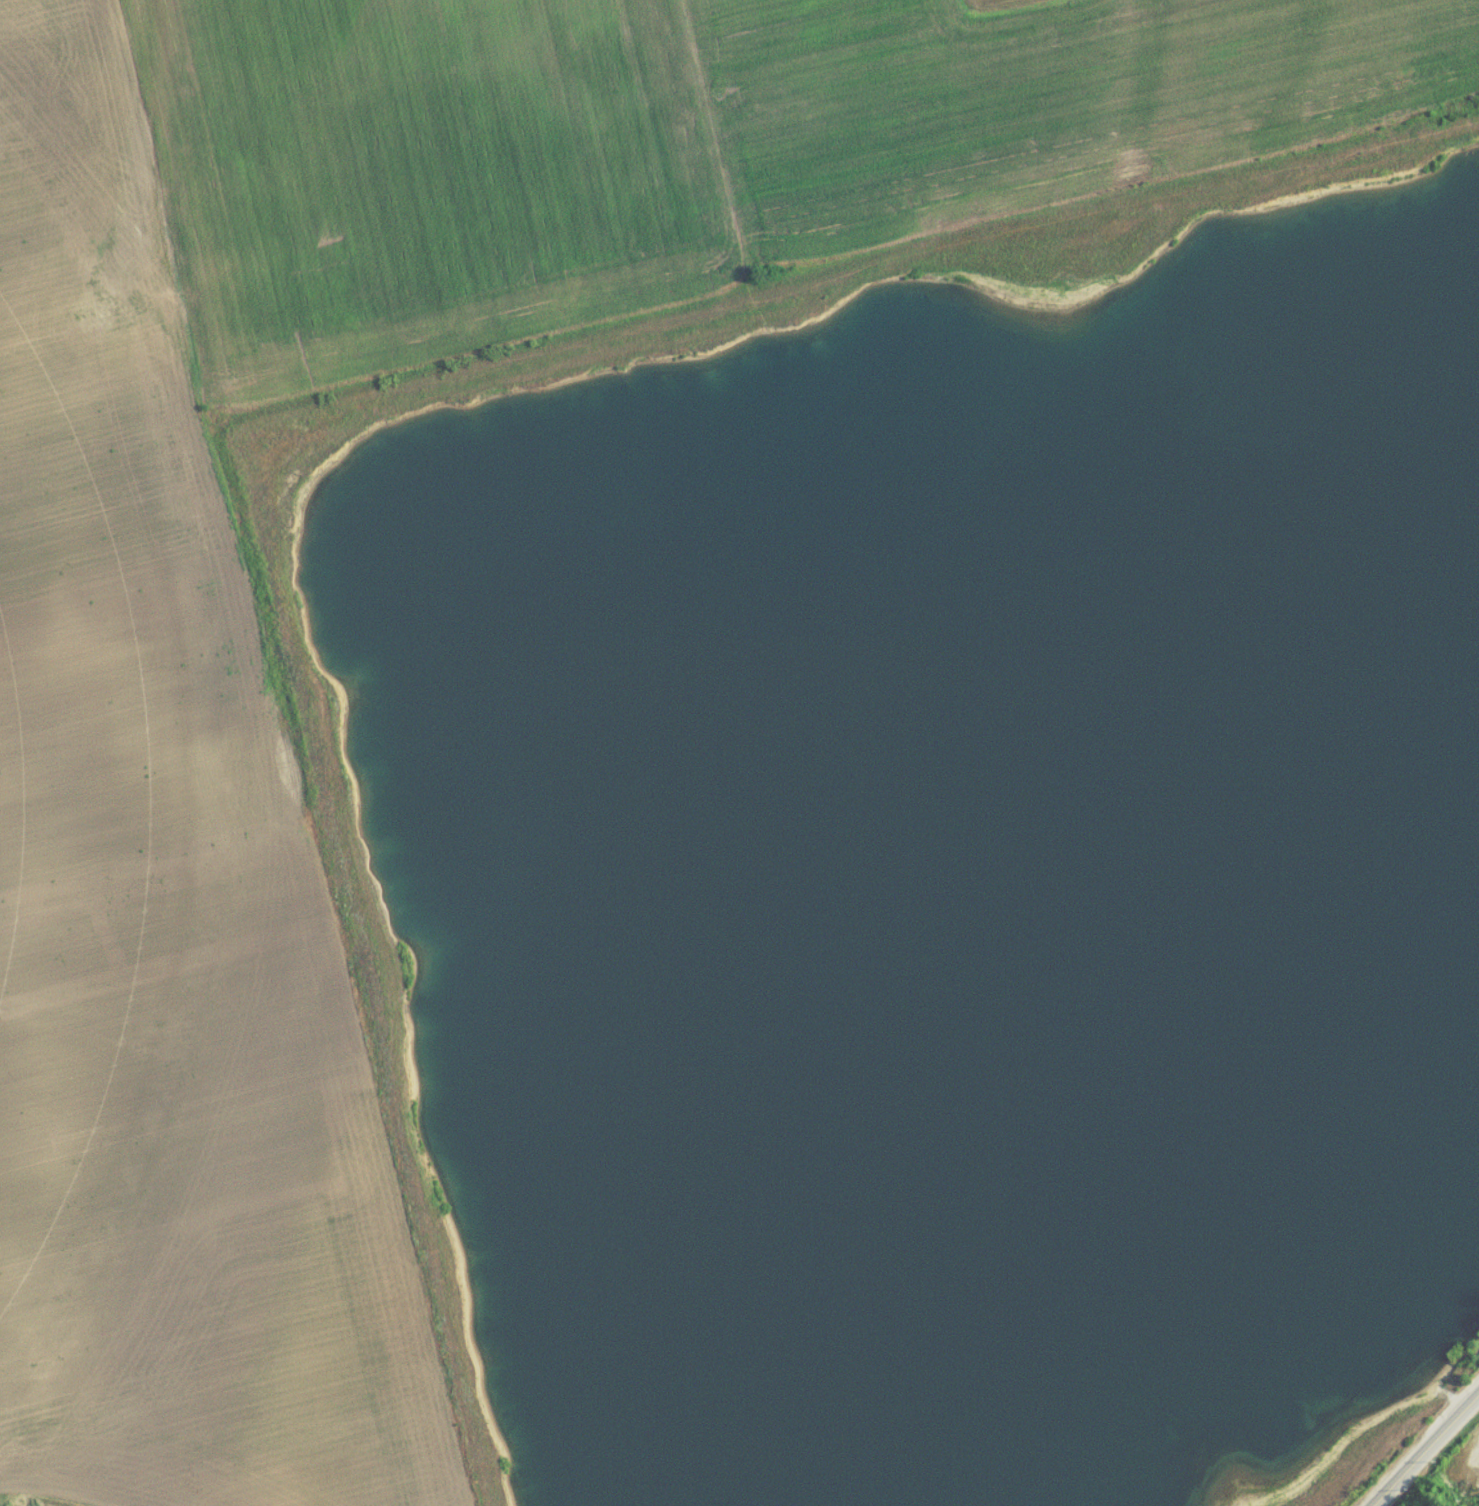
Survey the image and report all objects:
road: (1420, 1449)
quarry: (1477, 1455)

